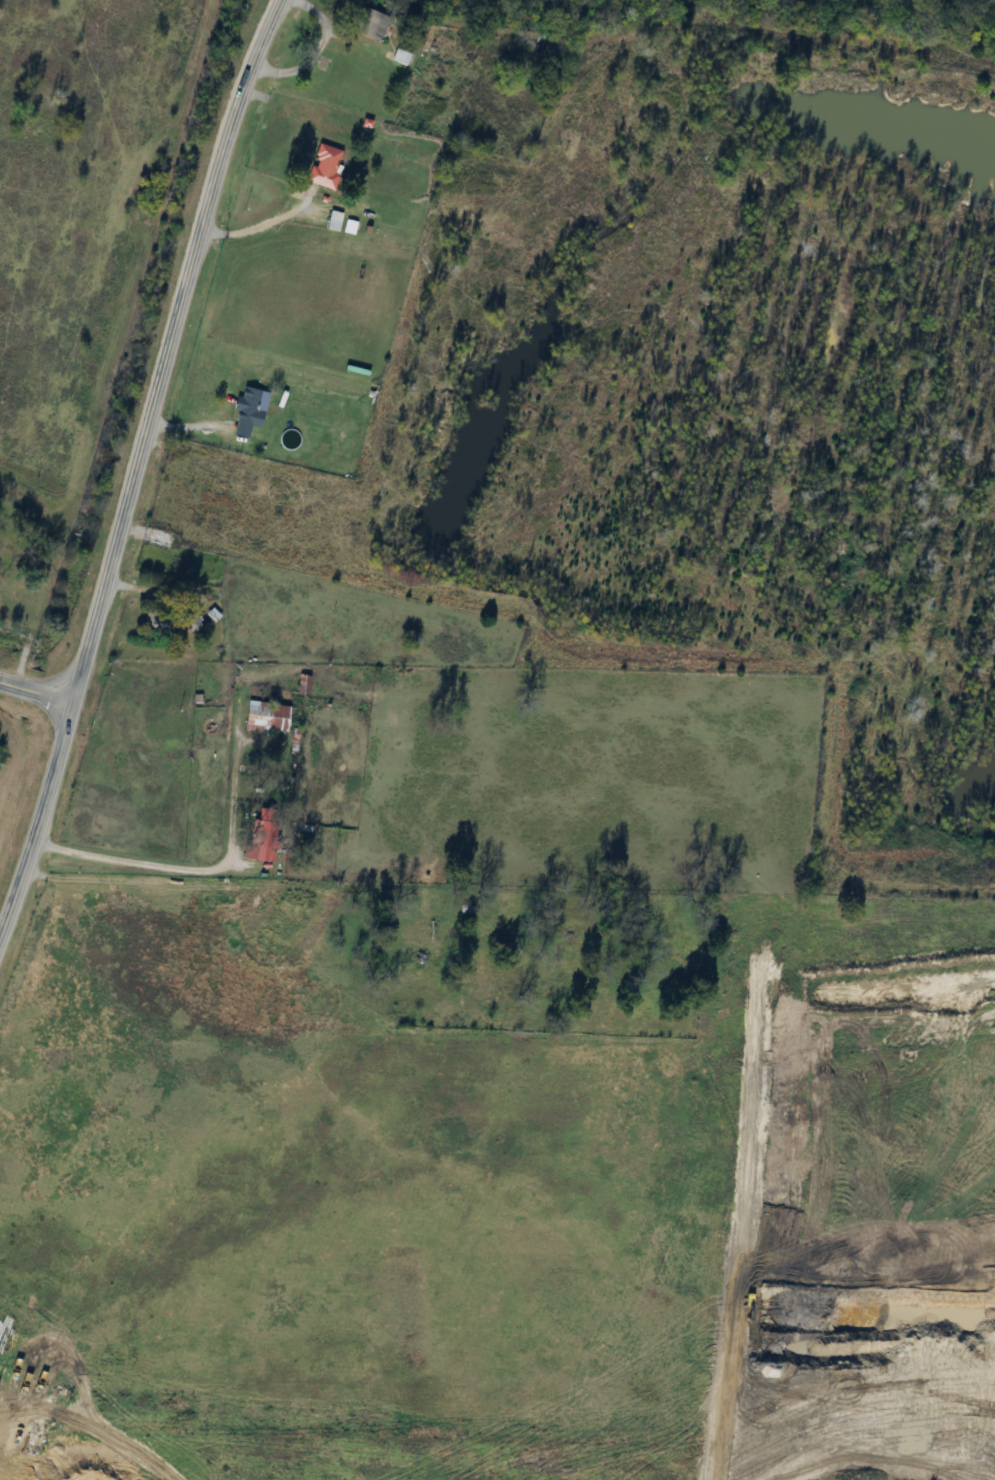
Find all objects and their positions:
building: (366, 25)
building: (544, 44)
building: (399, 57)
building: (321, 166)
building: (331, 221)
road: (252, 227)
building: (347, 227)
road: (167, 347)
building: (249, 408)
building: (186, 624)
road: (33, 690)
building: (269, 718)
road: (33, 802)
road: (124, 862)

